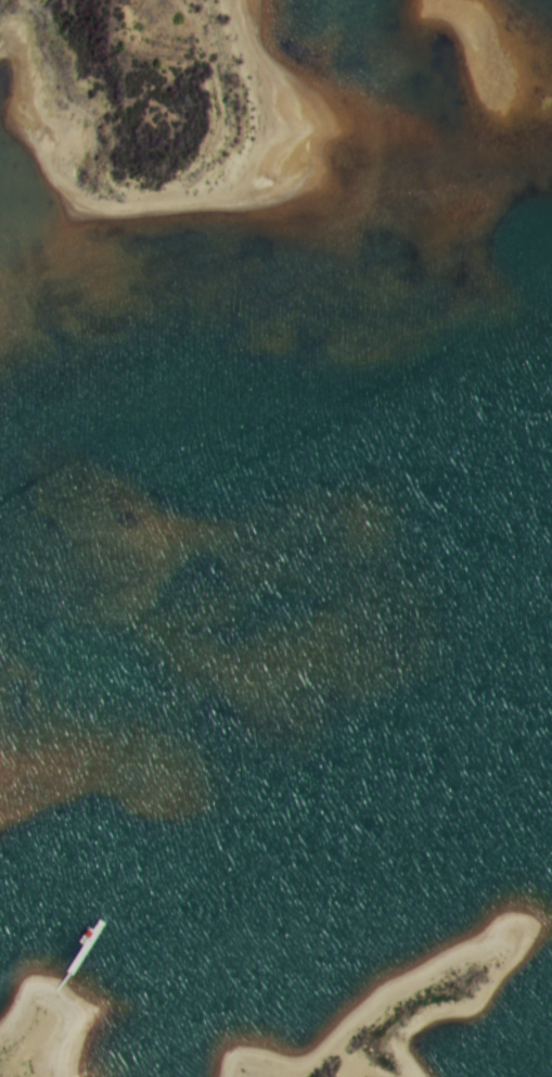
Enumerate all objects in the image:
road: (23, 1069)

